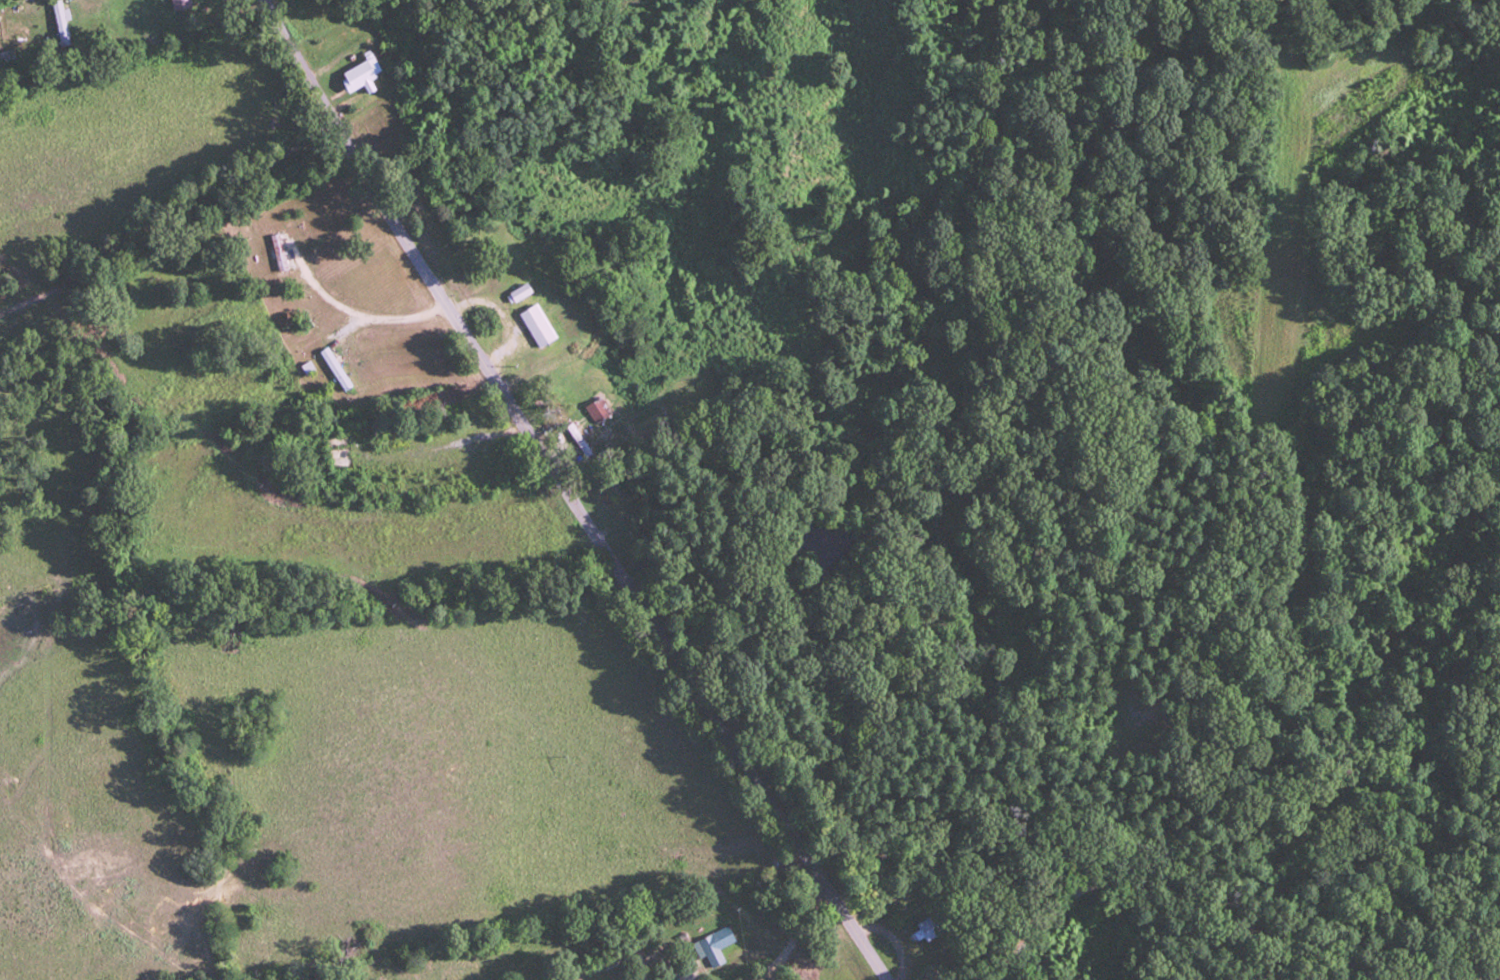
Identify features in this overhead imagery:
building: (179, 3)
building: (359, 75)
building: (278, 251)
building: (537, 325)
building: (333, 369)
building: (597, 410)
building: (576, 439)
building: (343, 456)
road: (621, 488)
building: (609, 502)
road: (319, 693)
road: (1219, 885)
road: (778, 923)
building: (934, 925)
building: (714, 946)

